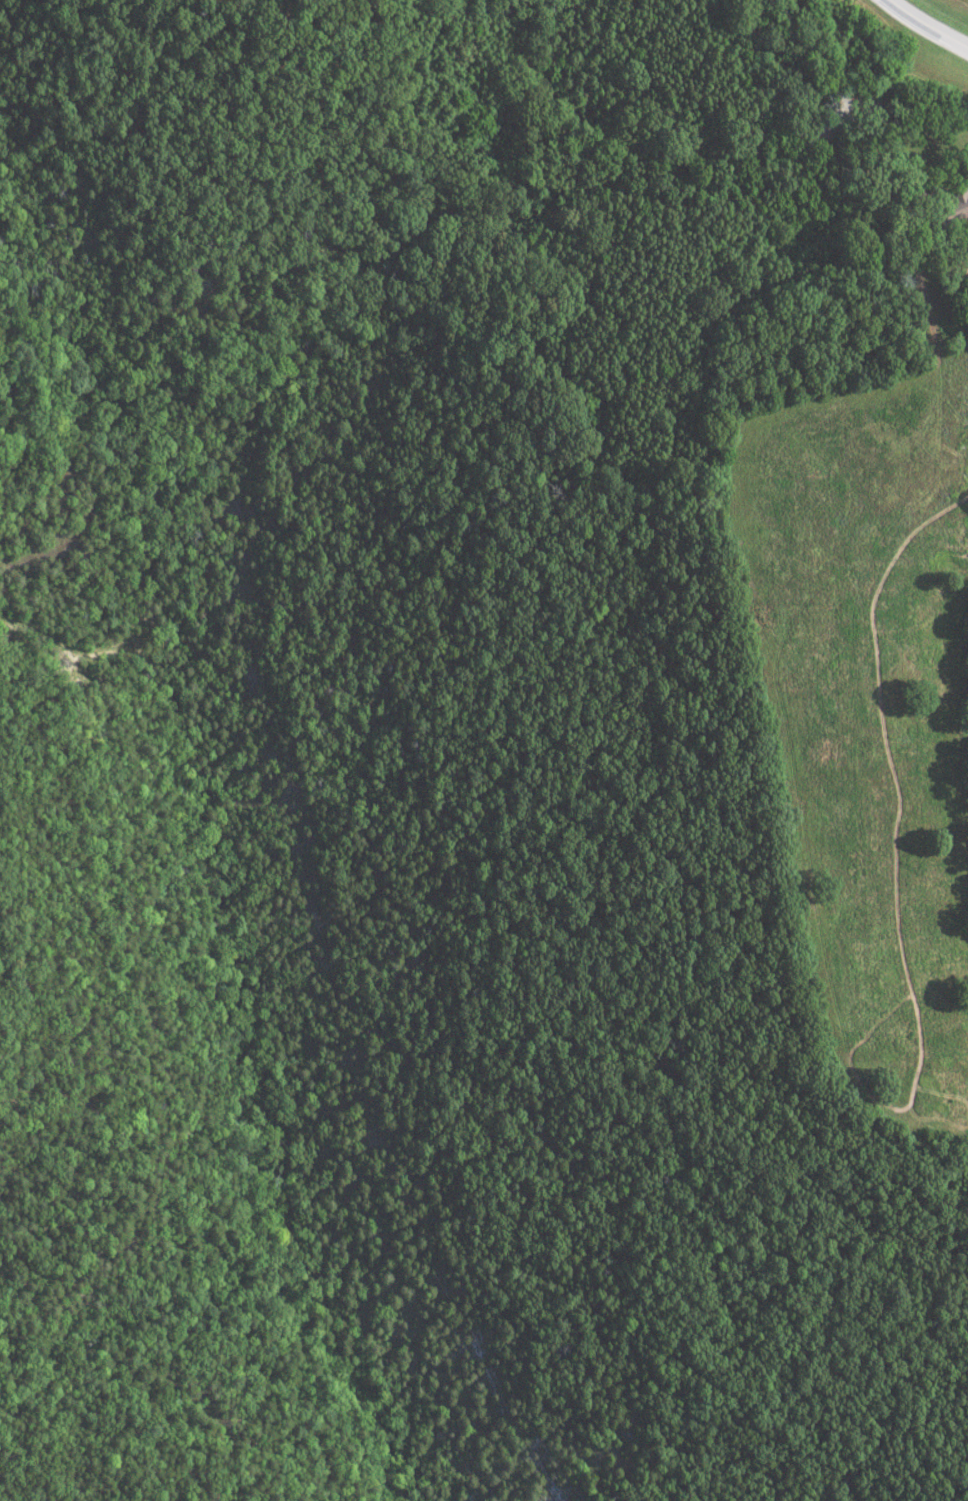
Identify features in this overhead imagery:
road: (914, 11)
road: (948, 32)
road: (839, 90)
building: (959, 203)

